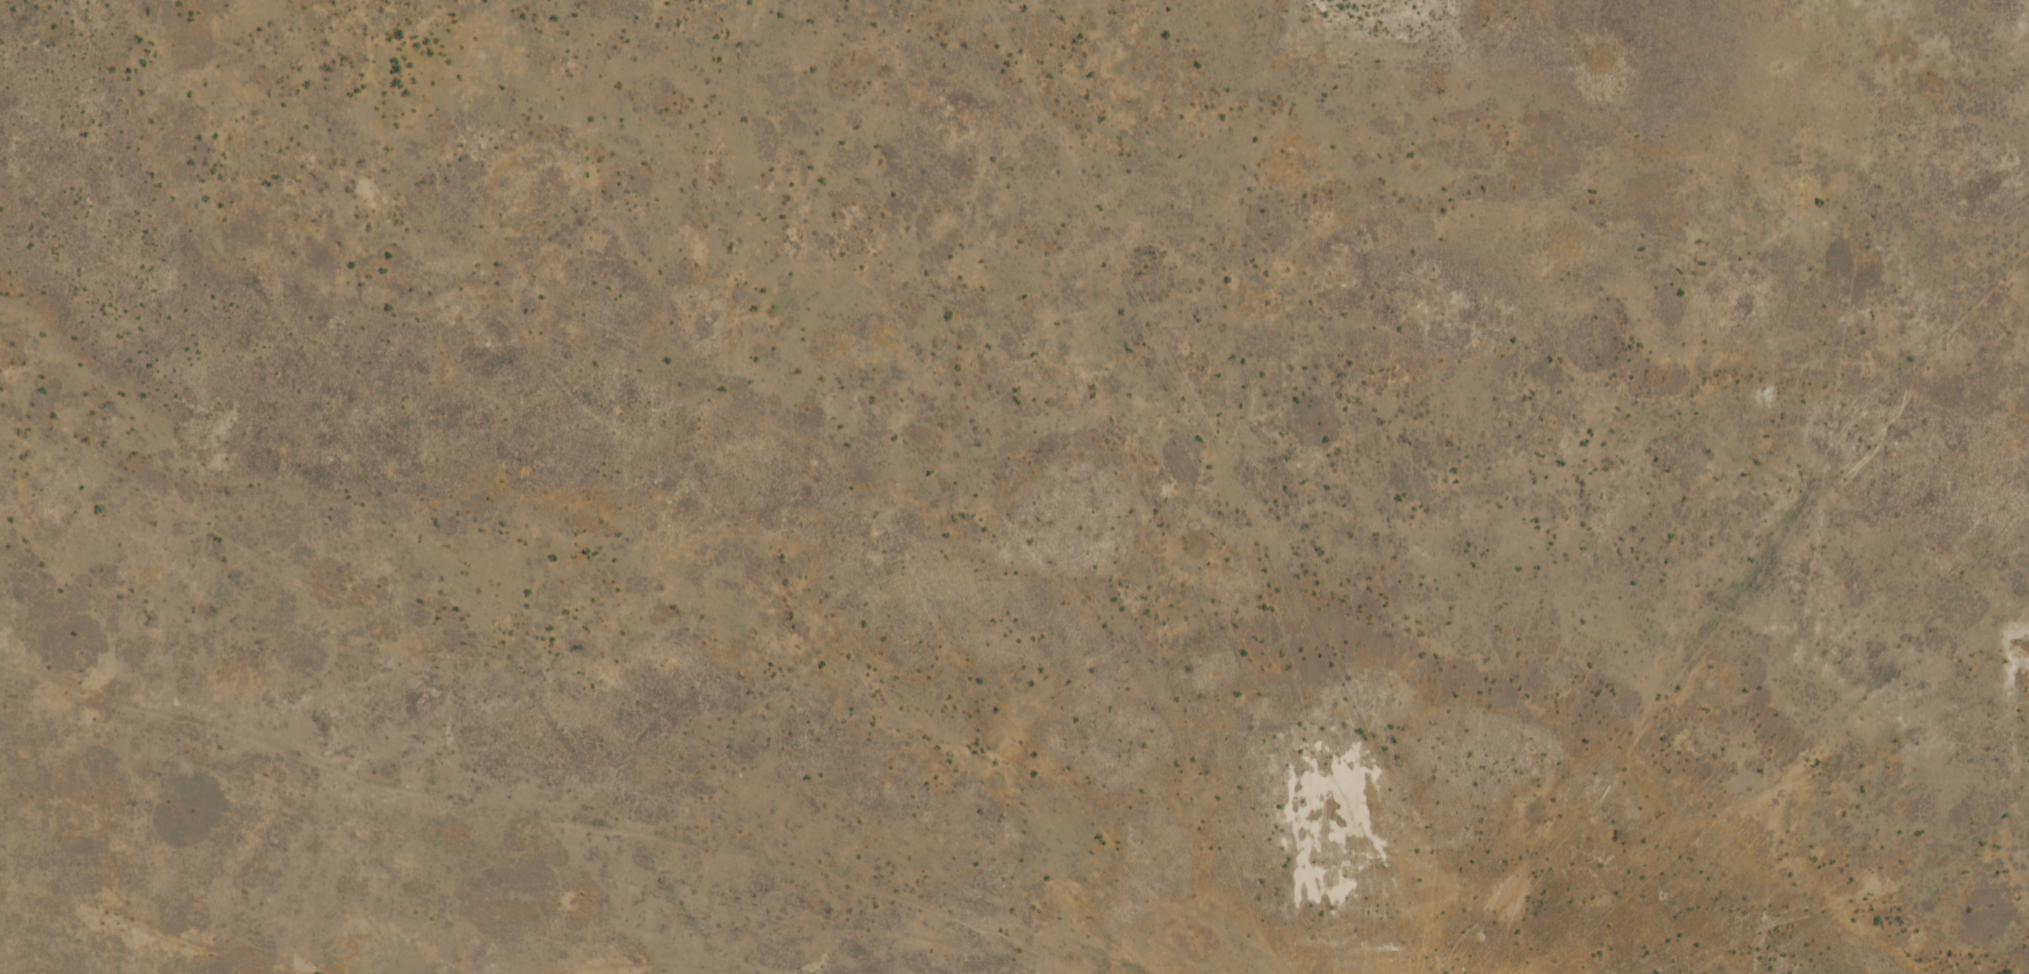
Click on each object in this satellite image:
road: (1703, 603)

